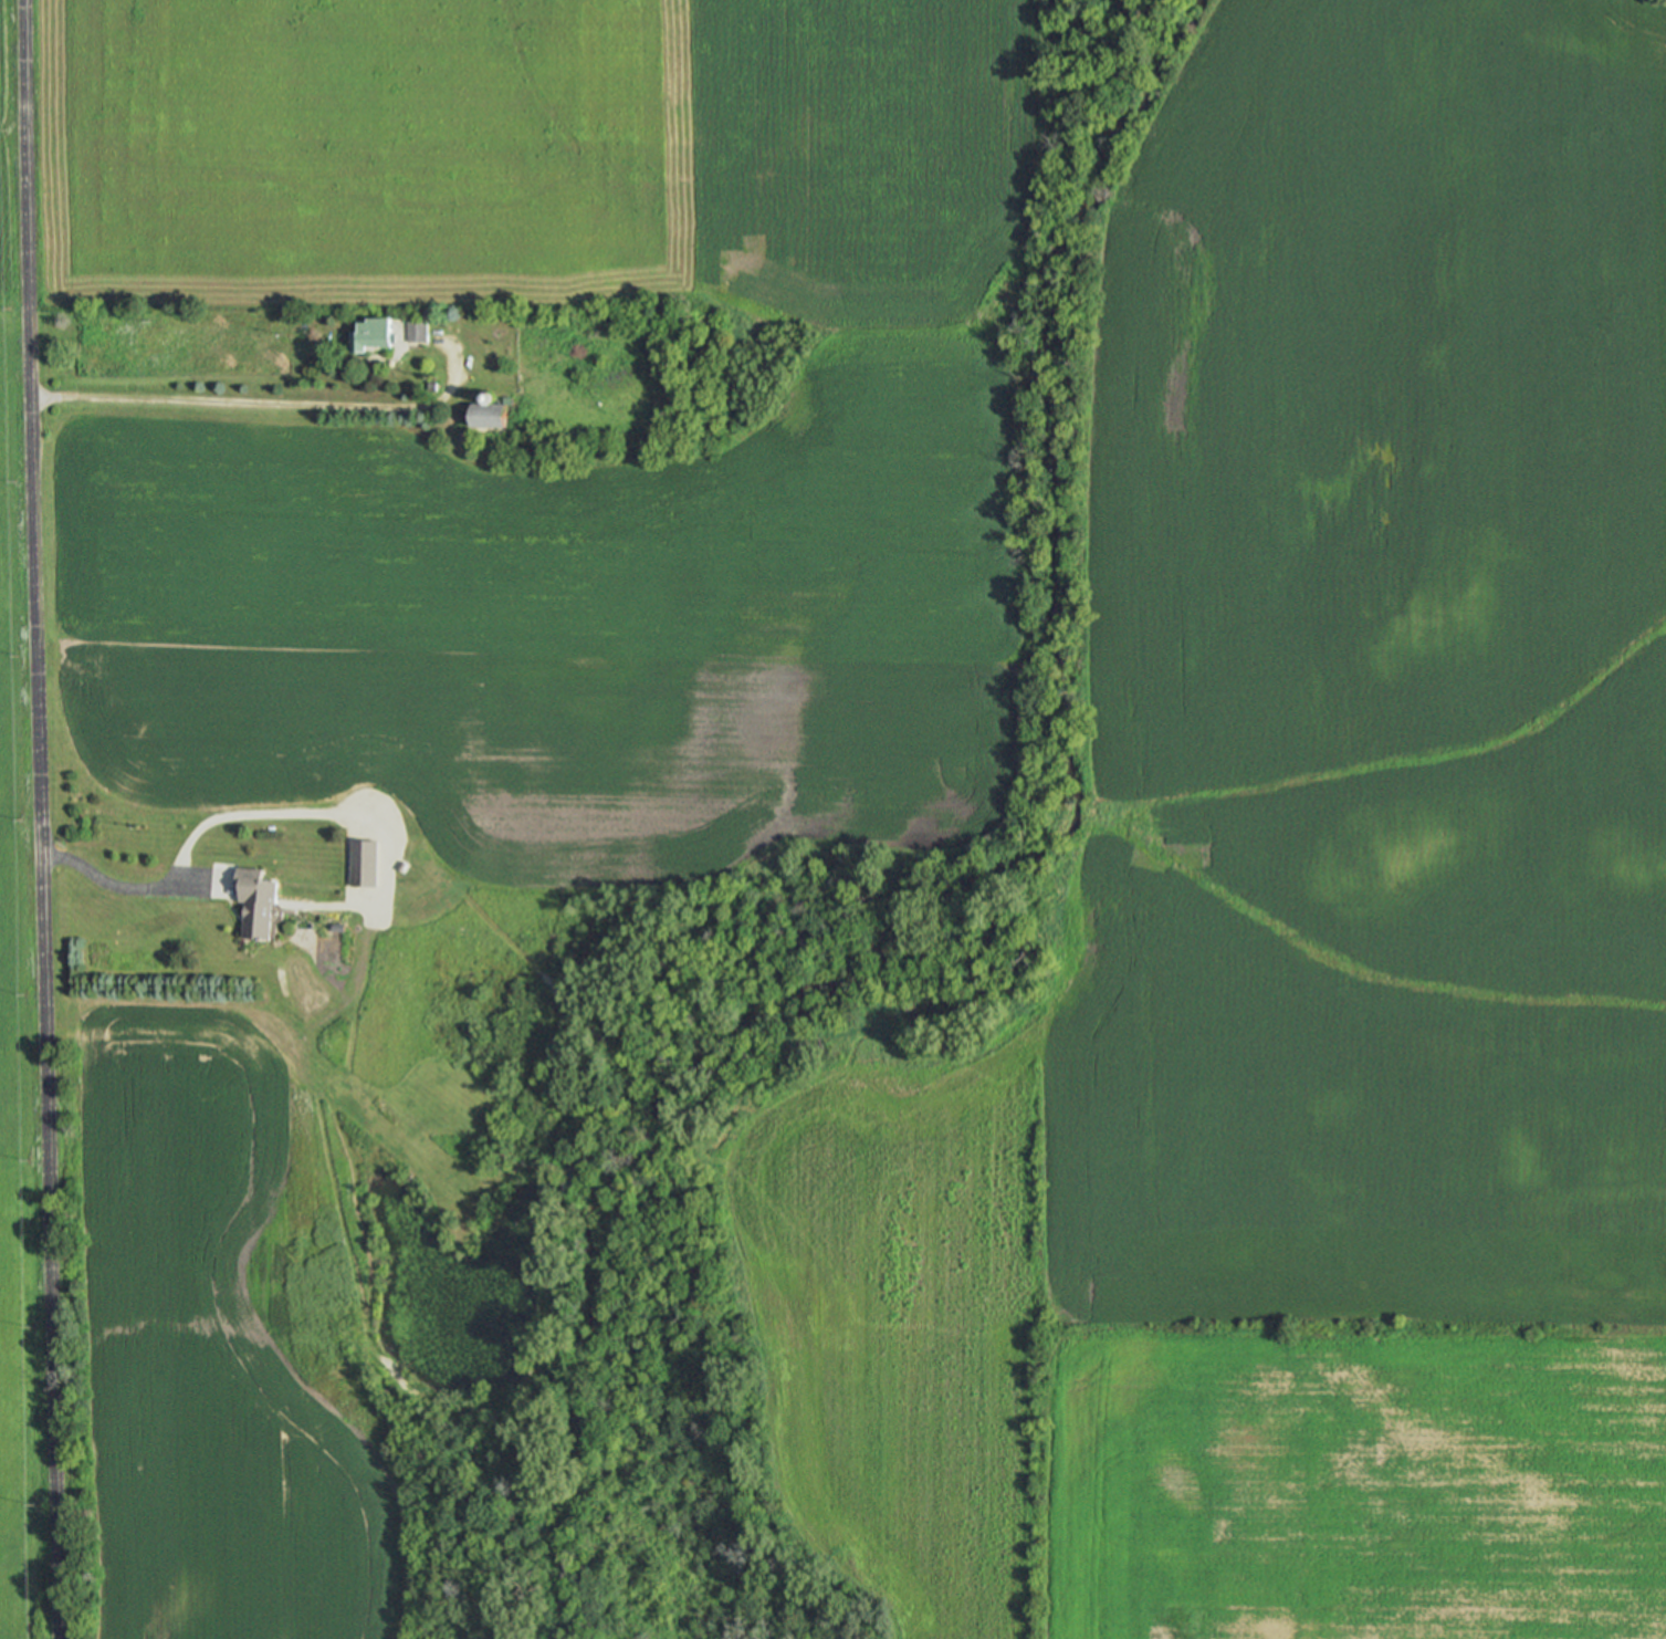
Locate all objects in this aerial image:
building: (413, 330)
building: (367, 334)
road: (268, 404)
building: (481, 415)
road: (42, 818)
building: (359, 863)
building: (252, 904)

